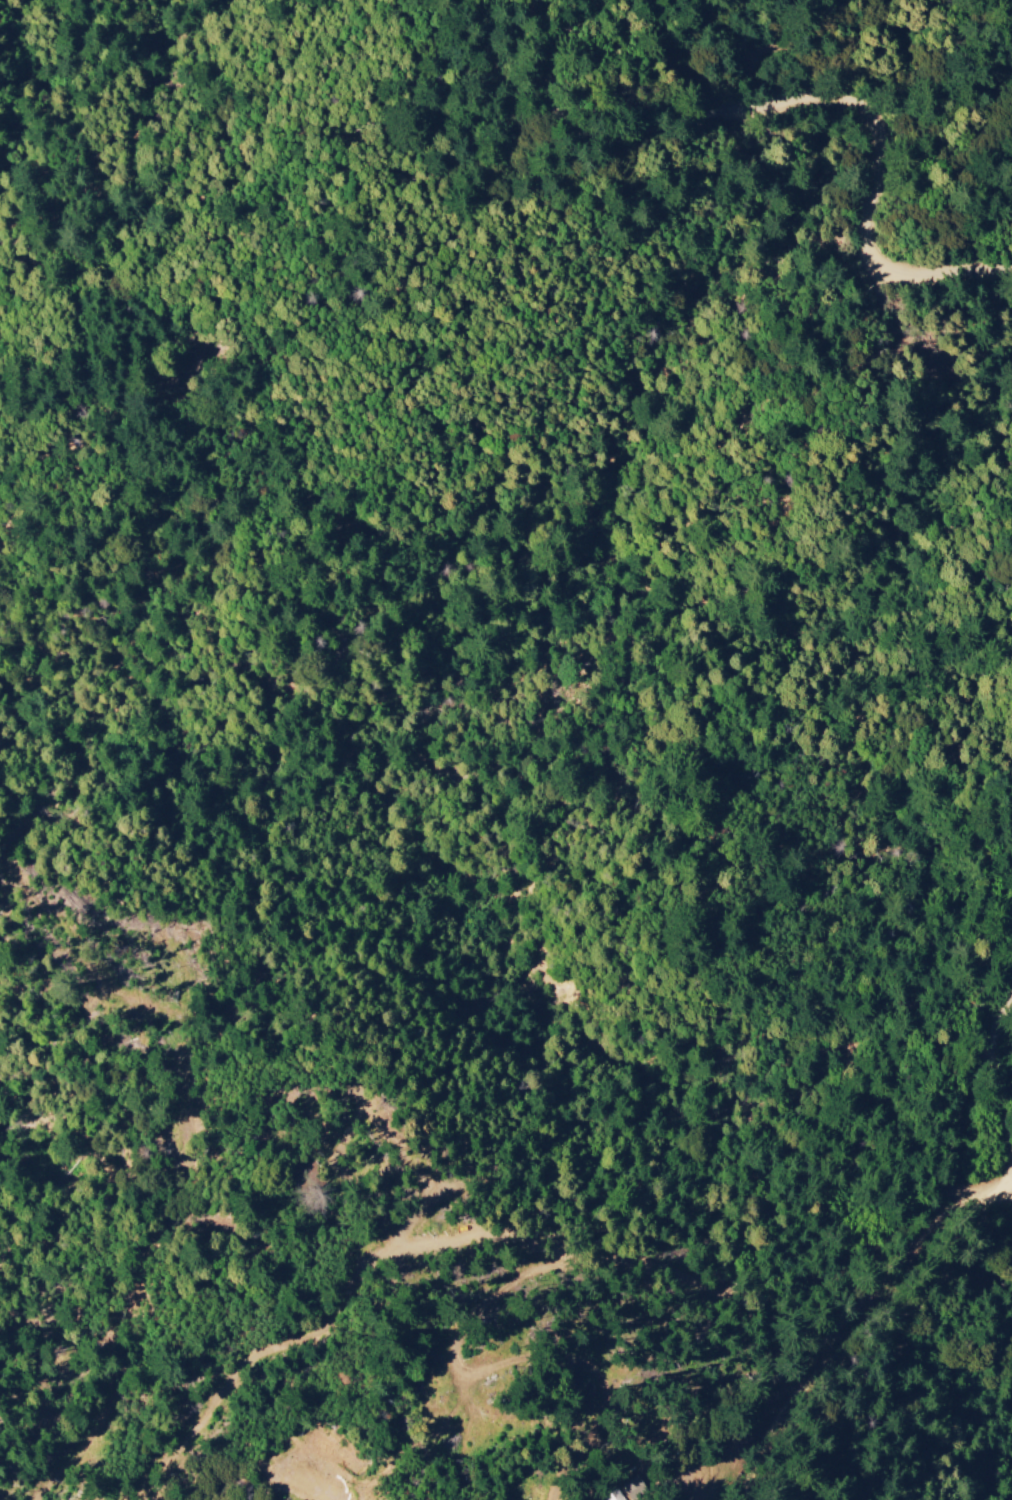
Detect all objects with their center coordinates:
road: (803, 105)
road: (989, 1190)
road: (904, 1256)
building: (615, 1497)

